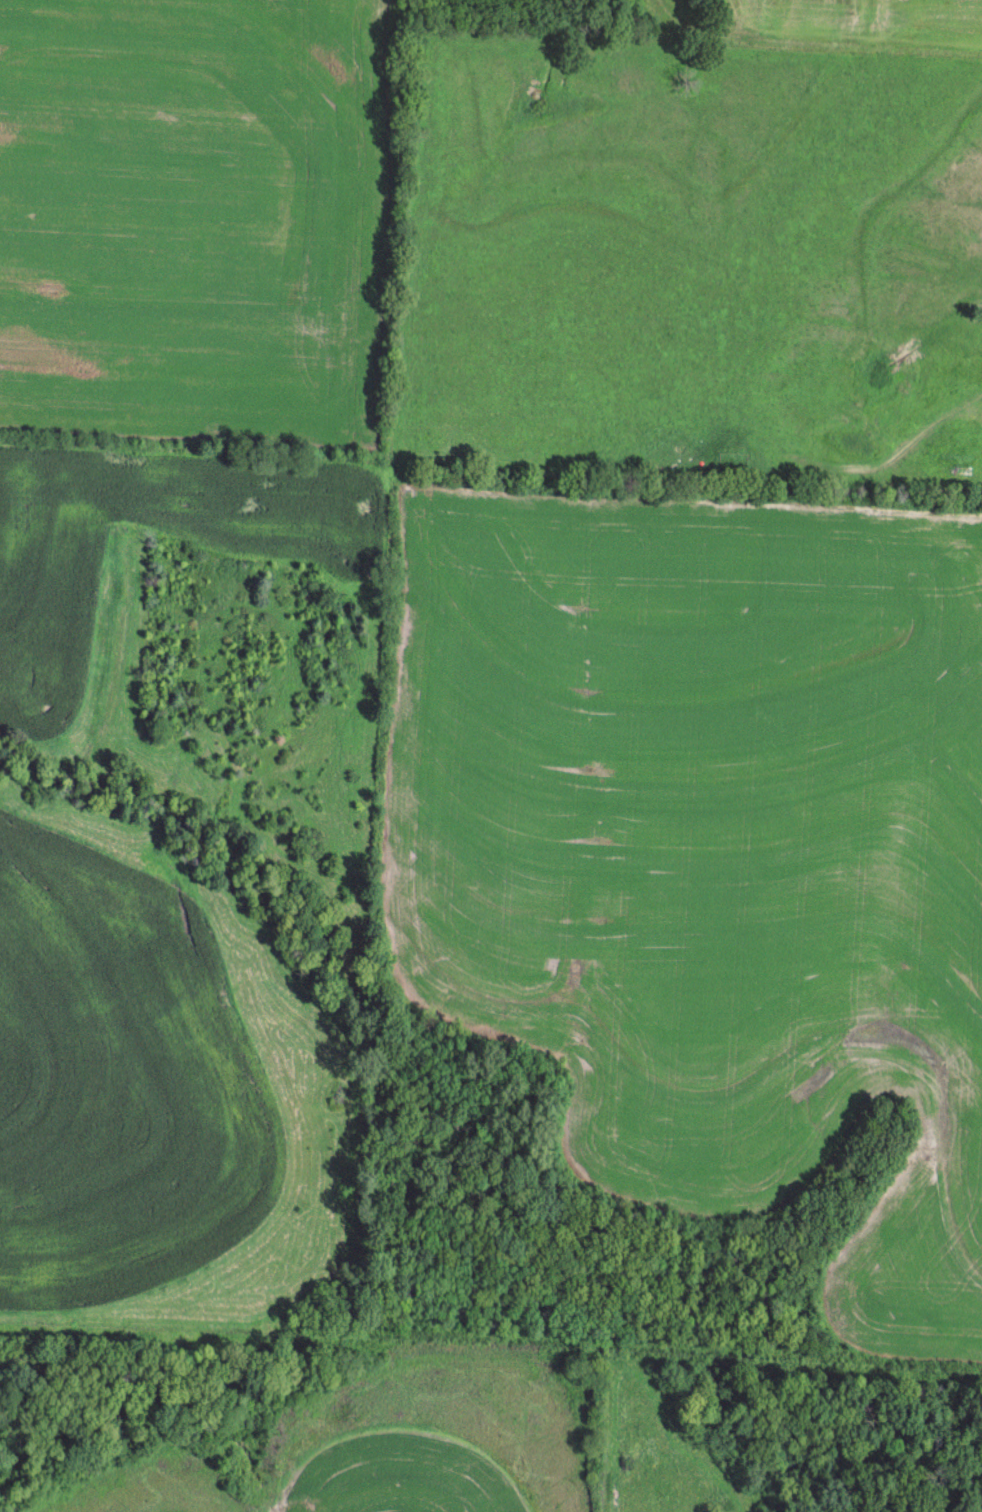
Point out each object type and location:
road: (391, 1328)

